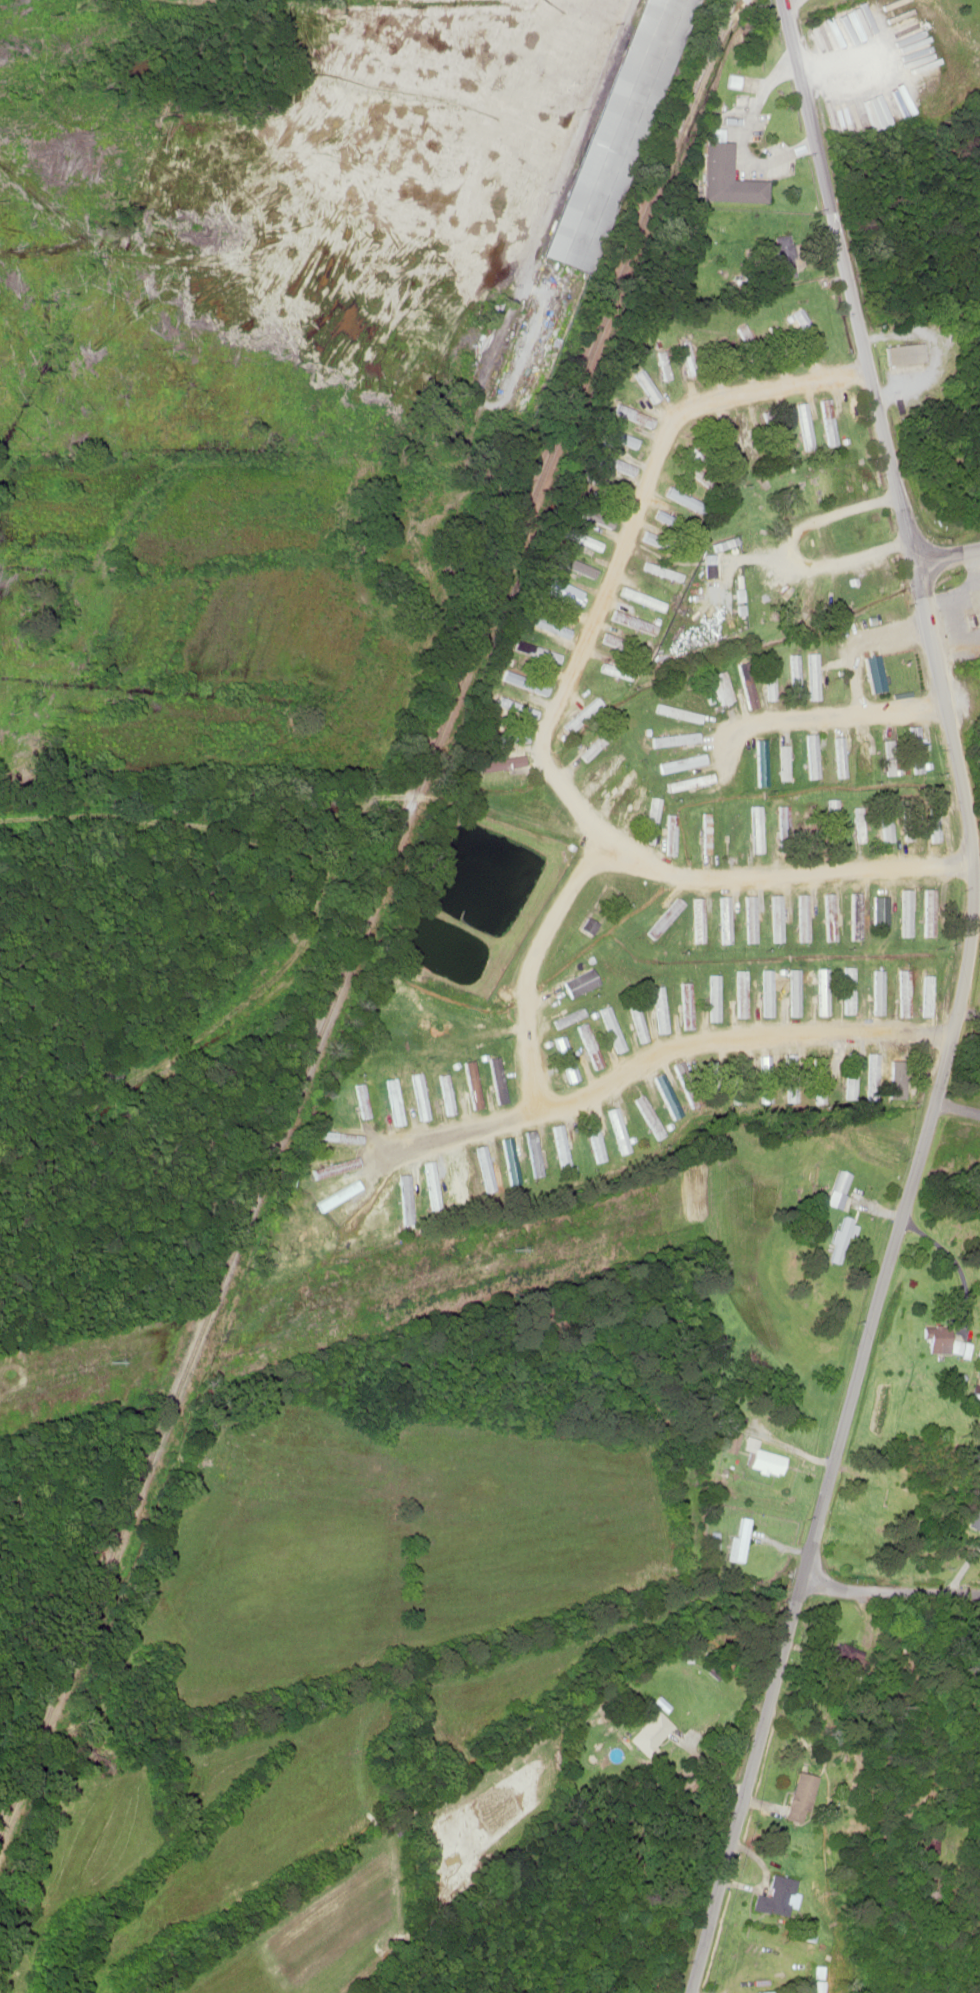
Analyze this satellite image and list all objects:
building: (621, 134)
building: (727, 173)
building: (784, 262)
building: (905, 353)
building: (623, 419)
building: (805, 423)
building: (613, 453)
building: (603, 481)
building: (682, 497)
building: (677, 526)
building: (582, 539)
building: (669, 547)
road: (792, 551)
road: (948, 553)
building: (572, 564)
building: (562, 591)
building: (972, 619)
building: (536, 651)
building: (624, 673)
building: (815, 673)
building: (876, 673)
building: (722, 687)
road: (543, 715)
building: (594, 745)
building: (868, 755)
building: (786, 762)
building: (607, 772)
building: (690, 783)
building: (622, 788)
building: (637, 804)
building: (836, 822)
building: (861, 824)
building: (671, 826)
building: (757, 828)
building: (783, 828)
building: (707, 831)
building: (732, 831)
building: (882, 910)
building: (857, 916)
railway: (364, 918)
building: (750, 918)
building: (725, 919)
building: (698, 922)
building: (589, 925)
road: (533, 965)
building: (739, 984)
building: (795, 989)
building: (854, 993)
road: (961, 1001)
building: (625, 1019)
road: (672, 1047)
building: (821, 1079)
building: (471, 1084)
building: (498, 1085)
building: (359, 1103)
road: (958, 1103)
building: (650, 1115)
building: (596, 1140)
building: (513, 1165)
building: (489, 1173)
building: (459, 1177)
building: (842, 1182)
building: (839, 1239)
building: (936, 1344)
building: (959, 1348)
building: (736, 1419)
building: (730, 1440)
building: (764, 1461)
building: (974, 1520)
building: (739, 1541)
road: (906, 1595)
building: (651, 1730)
building: (798, 1796)
building: (926, 1842)
building: (776, 1895)

